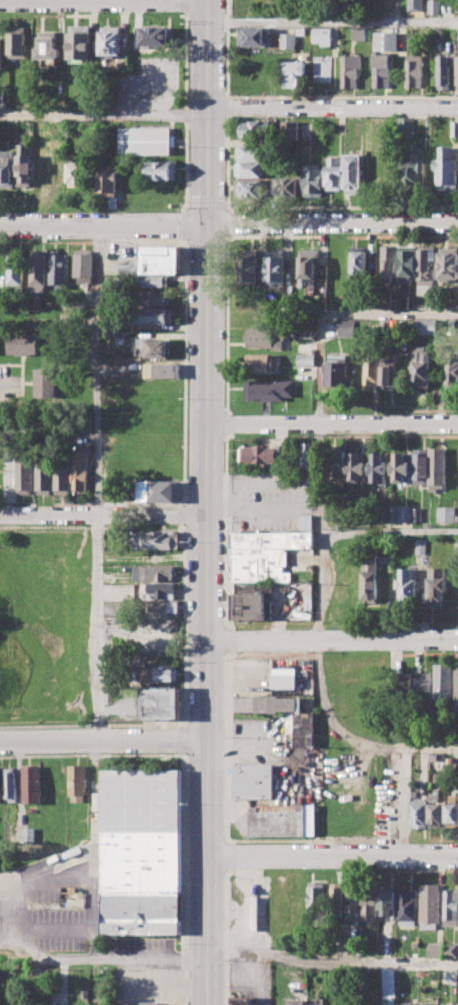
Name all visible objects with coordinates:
building: (415, 5)
building: (433, 7)
road: (332, 21)
building: (299, 31)
building: (357, 33)
building: (320, 35)
building: (153, 36)
building: (252, 37)
building: (282, 40)
building: (385, 40)
building: (16, 41)
building: (110, 41)
building: (79, 42)
road: (227, 49)
building: (45, 50)
building: (321, 69)
building: (381, 69)
building: (456, 69)
building: (349, 70)
building: (414, 71)
building: (444, 72)
building: (292, 73)
road: (342, 97)
road: (227, 107)
road: (332, 107)
road: (103, 116)
building: (406, 125)
building: (253, 129)
building: (291, 129)
building: (455, 129)
building: (144, 141)
building: (252, 152)
building: (23, 164)
building: (412, 168)
building: (447, 168)
building: (7, 169)
building: (249, 169)
building: (39, 170)
building: (56, 170)
building: (161, 170)
building: (75, 171)
building: (333, 173)
building: (354, 174)
building: (312, 180)
building: (106, 181)
building: (284, 186)
building: (251, 188)
road: (297, 207)
road: (229, 209)
traffic signals: (208, 222)
road: (228, 222)
road: (231, 222)
road: (233, 235)
building: (153, 261)
building: (388, 263)
building: (407, 263)
building: (359, 264)
building: (448, 264)
building: (83, 266)
building: (275, 266)
building: (247, 267)
building: (308, 268)
building: (58, 269)
building: (425, 270)
building: (14, 271)
building: (38, 272)
road: (227, 278)
building: (150, 281)
building: (153, 298)
building: (403, 301)
building: (154, 316)
building: (425, 326)
building: (347, 329)
building: (307, 333)
building: (264, 338)
building: (25, 343)
building: (155, 348)
building: (305, 360)
building: (262, 362)
road: (96, 368)
building: (371, 368)
building: (422, 368)
building: (338, 370)
building: (387, 370)
building: (166, 371)
building: (452, 372)
building: (48, 382)
road: (1, 388)
building: (269, 389)
road: (318, 408)
road: (333, 421)
road: (227, 423)
building: (261, 455)
building: (307, 456)
building: (338, 465)
building: (420, 466)
building: (357, 467)
building: (401, 467)
building: (379, 468)
building: (436, 469)
building: (82, 471)
building: (26, 476)
building: (45, 477)
building: (63, 478)
building: (159, 491)
road: (209, 502)
building: (417, 513)
building: (386, 514)
building: (401, 514)
building: (445, 514)
road: (104, 515)
road: (391, 531)
road: (230, 532)
building: (277, 536)
building: (159, 540)
building: (421, 546)
building: (260, 563)
building: (154, 573)
building: (371, 579)
building: (409, 585)
building: (438, 585)
building: (255, 587)
building: (158, 590)
building: (250, 606)
building: (162, 607)
road: (97, 626)
road: (333, 639)
road: (234, 640)
road: (427, 653)
road: (397, 654)
building: (159, 675)
building: (443, 681)
building: (284, 682)
building: (456, 683)
building: (402, 687)
building: (423, 689)
building: (162, 704)
building: (278, 704)
building: (304, 730)
road: (103, 738)
road: (348, 738)
road: (227, 745)
building: (436, 757)
building: (77, 781)
building: (253, 781)
building: (10, 785)
building: (32, 785)
building: (0, 789)
road: (405, 798)
building: (436, 811)
building: (452, 811)
building: (419, 813)
building: (282, 822)
building: (141, 829)
building: (27, 835)
road: (328, 840)
road: (333, 853)
road: (231, 855)
road: (94, 892)
building: (316, 896)
building: (336, 899)
building: (387, 899)
building: (353, 900)
building: (370, 905)
building: (430, 906)
building: (408, 907)
building: (451, 907)
building: (141, 911)
building: (354, 931)
road: (226, 934)
building: (435, 950)
building: (451, 950)
road: (104, 960)
road: (332, 962)
building: (242, 1001)
building: (295, 1001)
building: (150, 1002)
building: (428, 1003)
building: (319, 1004)
building: (406, 1004)
building: (448, 1004)
building: (457, 1004)

